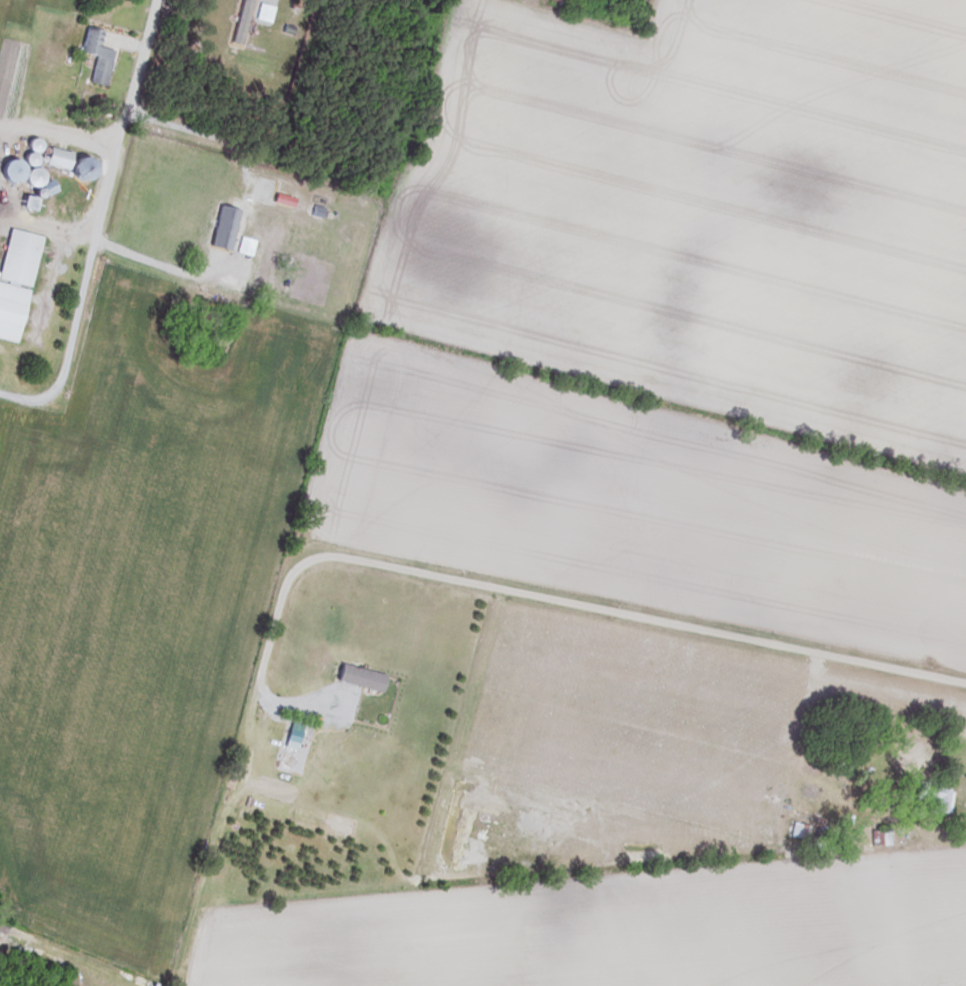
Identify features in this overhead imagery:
building: (94, 55)
road: (140, 59)
road: (69, 138)
road: (222, 156)
building: (53, 158)
building: (28, 176)
building: (78, 183)
building: (23, 204)
building: (187, 248)
building: (14, 277)
road: (81, 294)
building: (211, 319)
road: (648, 617)
building: (932, 798)
road: (961, 822)
building: (798, 831)

